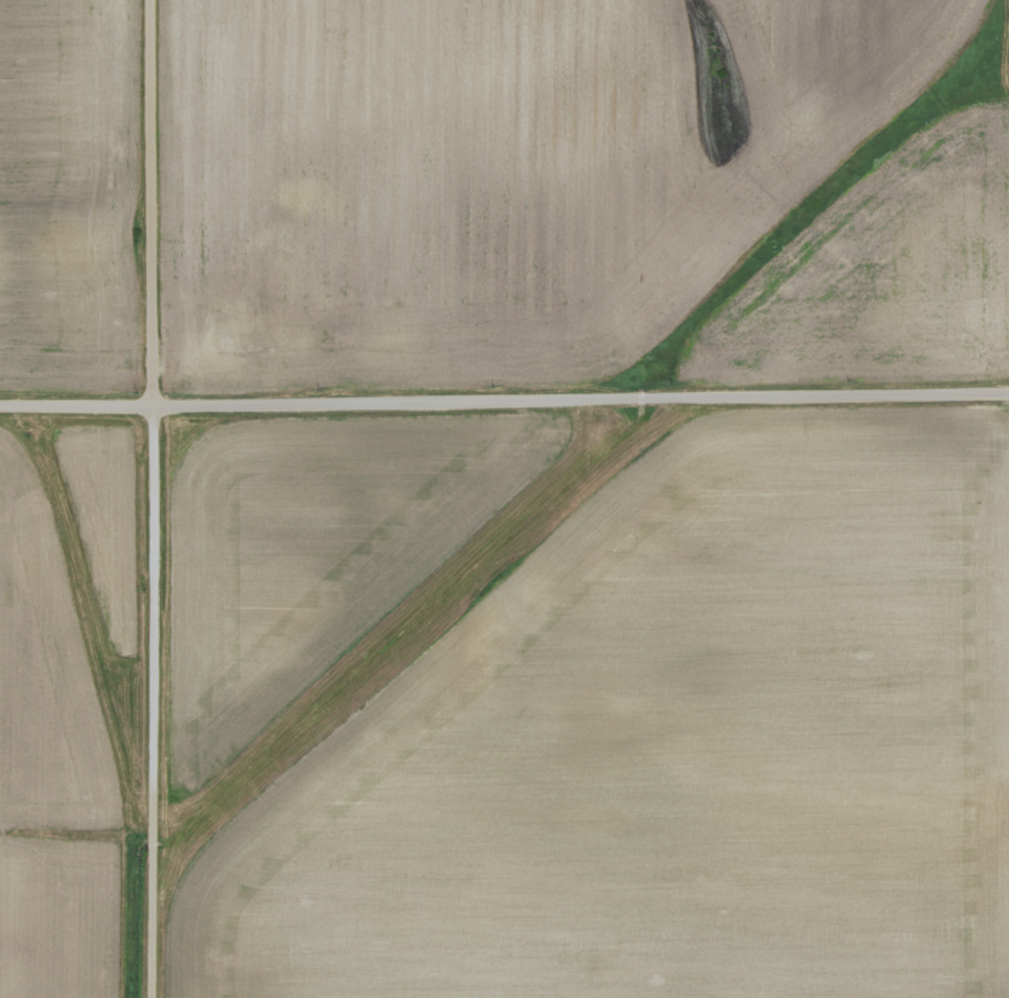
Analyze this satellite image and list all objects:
road: (504, 397)
road: (156, 498)

